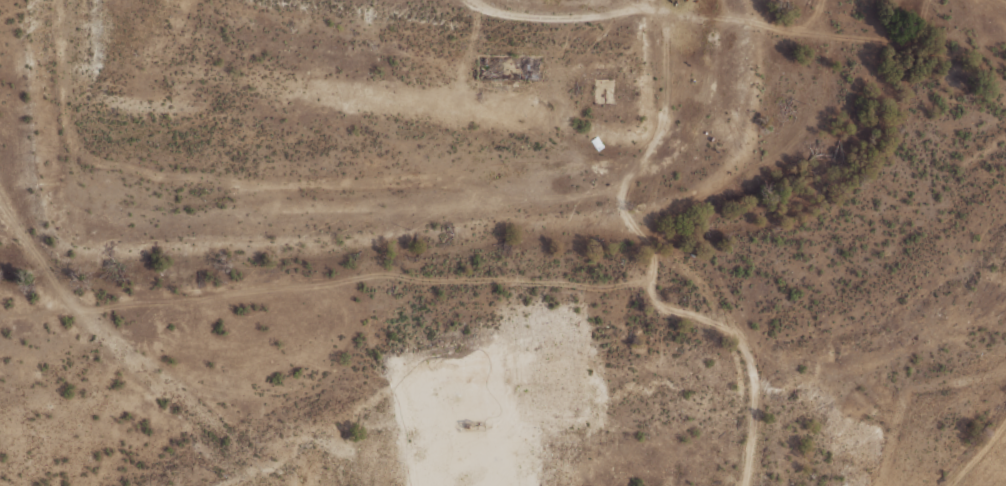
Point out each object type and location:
road: (648, 7)
road: (663, 107)
road: (176, 183)
road: (529, 195)
road: (648, 283)
road: (120, 349)
road: (749, 354)
road: (976, 449)

